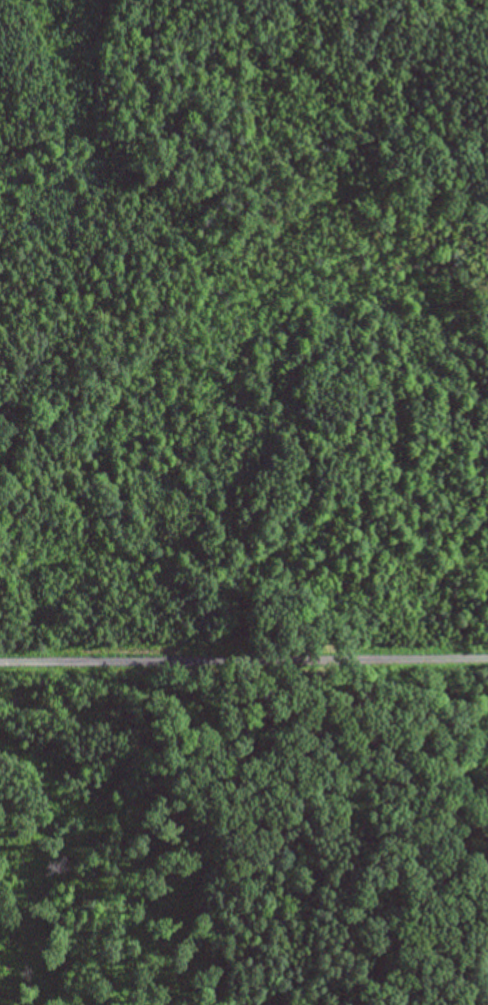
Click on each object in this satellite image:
road: (244, 663)

